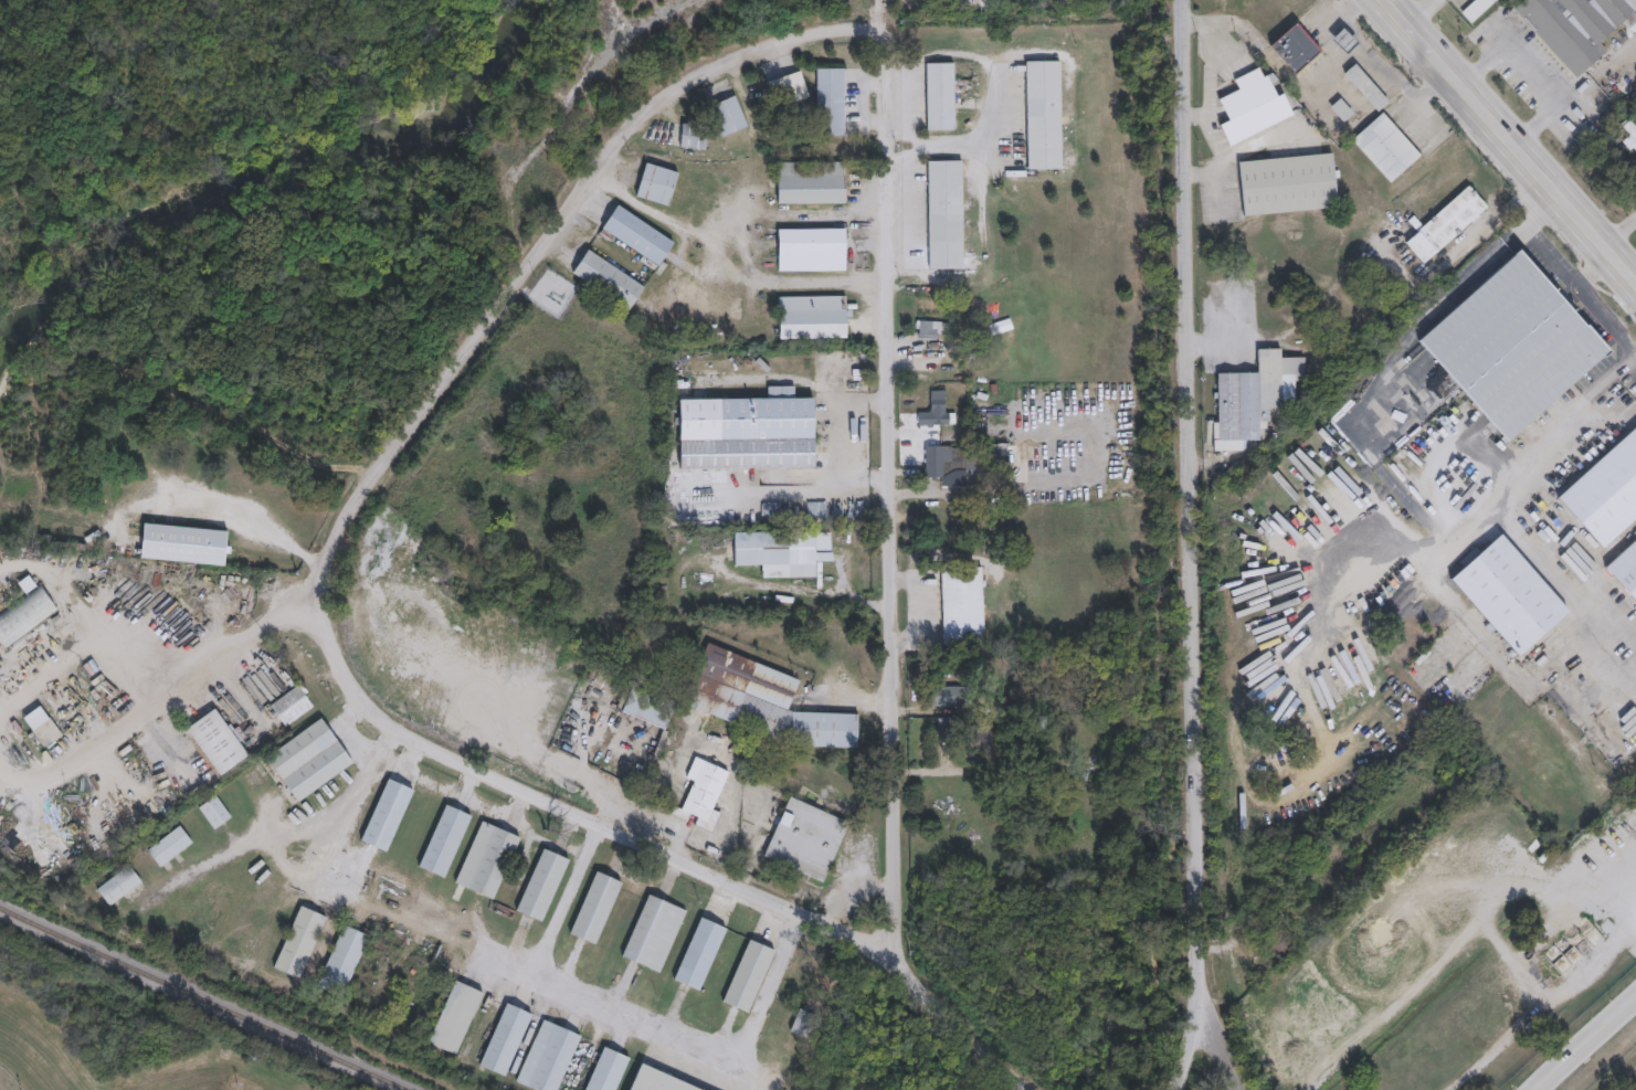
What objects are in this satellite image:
road: (1415, 10)
building: (1343, 40)
road: (1362, 41)
building: (1295, 46)
road: (1411, 64)
road: (1206, 66)
road: (1278, 67)
road: (1532, 75)
building: (788, 88)
building: (940, 96)
road: (1422, 96)
building: (831, 100)
building: (1254, 105)
building: (1340, 108)
building: (728, 114)
building: (1043, 115)
road: (992, 120)
road: (905, 134)
building: (693, 135)
road: (1258, 139)
road: (1510, 141)
road: (935, 145)
road: (1221, 158)
building: (811, 181)
building: (656, 183)
building: (1287, 183)
river: (273, 187)
road: (1216, 191)
building: (946, 213)
road: (1619, 230)
building: (637, 234)
building: (812, 248)
road: (1548, 254)
road: (1591, 267)
road: (722, 268)
building: (608, 278)
road: (508, 289)
building: (813, 316)
road: (1605, 319)
building: (929, 329)
building: (1254, 396)
building: (936, 411)
building: (747, 432)
road: (847, 436)
building: (936, 459)
building: (977, 469)
road: (1383, 472)
road: (887, 480)
road: (251, 520)
building: (939, 526)
building: (183, 543)
road: (1193, 547)
building: (783, 552)
road: (1561, 583)
building: (1508, 593)
building: (962, 603)
building: (25, 611)
building: (944, 695)
road: (165, 698)
building: (762, 701)
building: (292, 703)
building: (647, 707)
building: (42, 726)
building: (217, 740)
building: (979, 741)
road: (408, 751)
building: (309, 758)
road: (461, 781)
road: (447, 789)
building: (701, 792)
road: (515, 804)
building: (214, 811)
building: (387, 813)
building: (806, 838)
road: (318, 839)
building: (444, 839)
building: (170, 845)
building: (487, 858)
road: (710, 877)
building: (118, 883)
building: (541, 883)
building: (595, 907)
road: (1633, 916)
building: (654, 931)
building: (1581, 935)
building: (299, 941)
building: (699, 952)
building: (342, 960)
building: (749, 975)
railway: (203, 999)
road: (631, 1014)
building: (455, 1016)
building: (799, 1022)
building: (505, 1038)
road: (1221, 1038)
landfill: (103, 1041)
road: (1582, 1041)
building: (548, 1057)
building: (606, 1069)
building: (656, 1081)

